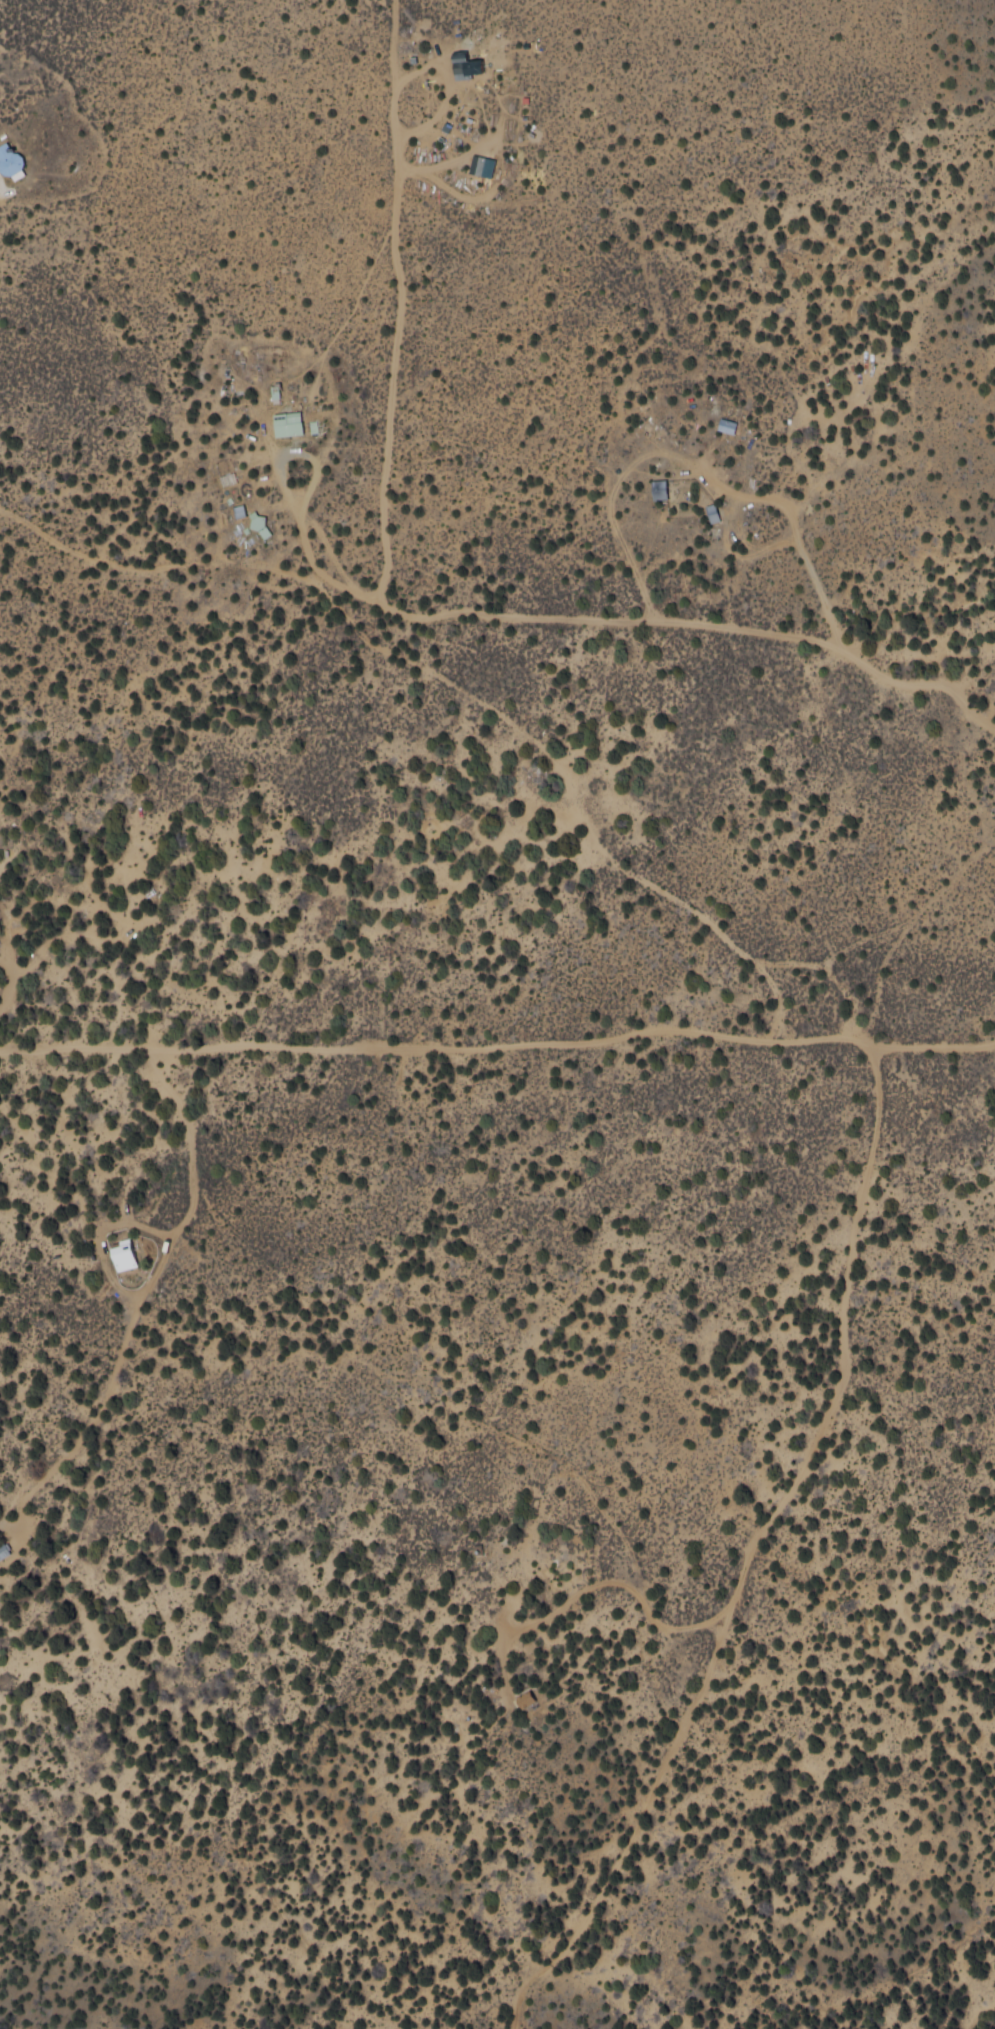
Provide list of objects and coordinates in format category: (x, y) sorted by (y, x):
building: (464, 65)
building: (9, 161)
building: (480, 165)
building: (286, 423)
building: (725, 426)
building: (711, 512)
road: (27, 996)
road: (81, 1044)
road: (860, 1049)
road: (235, 1220)
building: (122, 1255)
building: (4, 1550)

